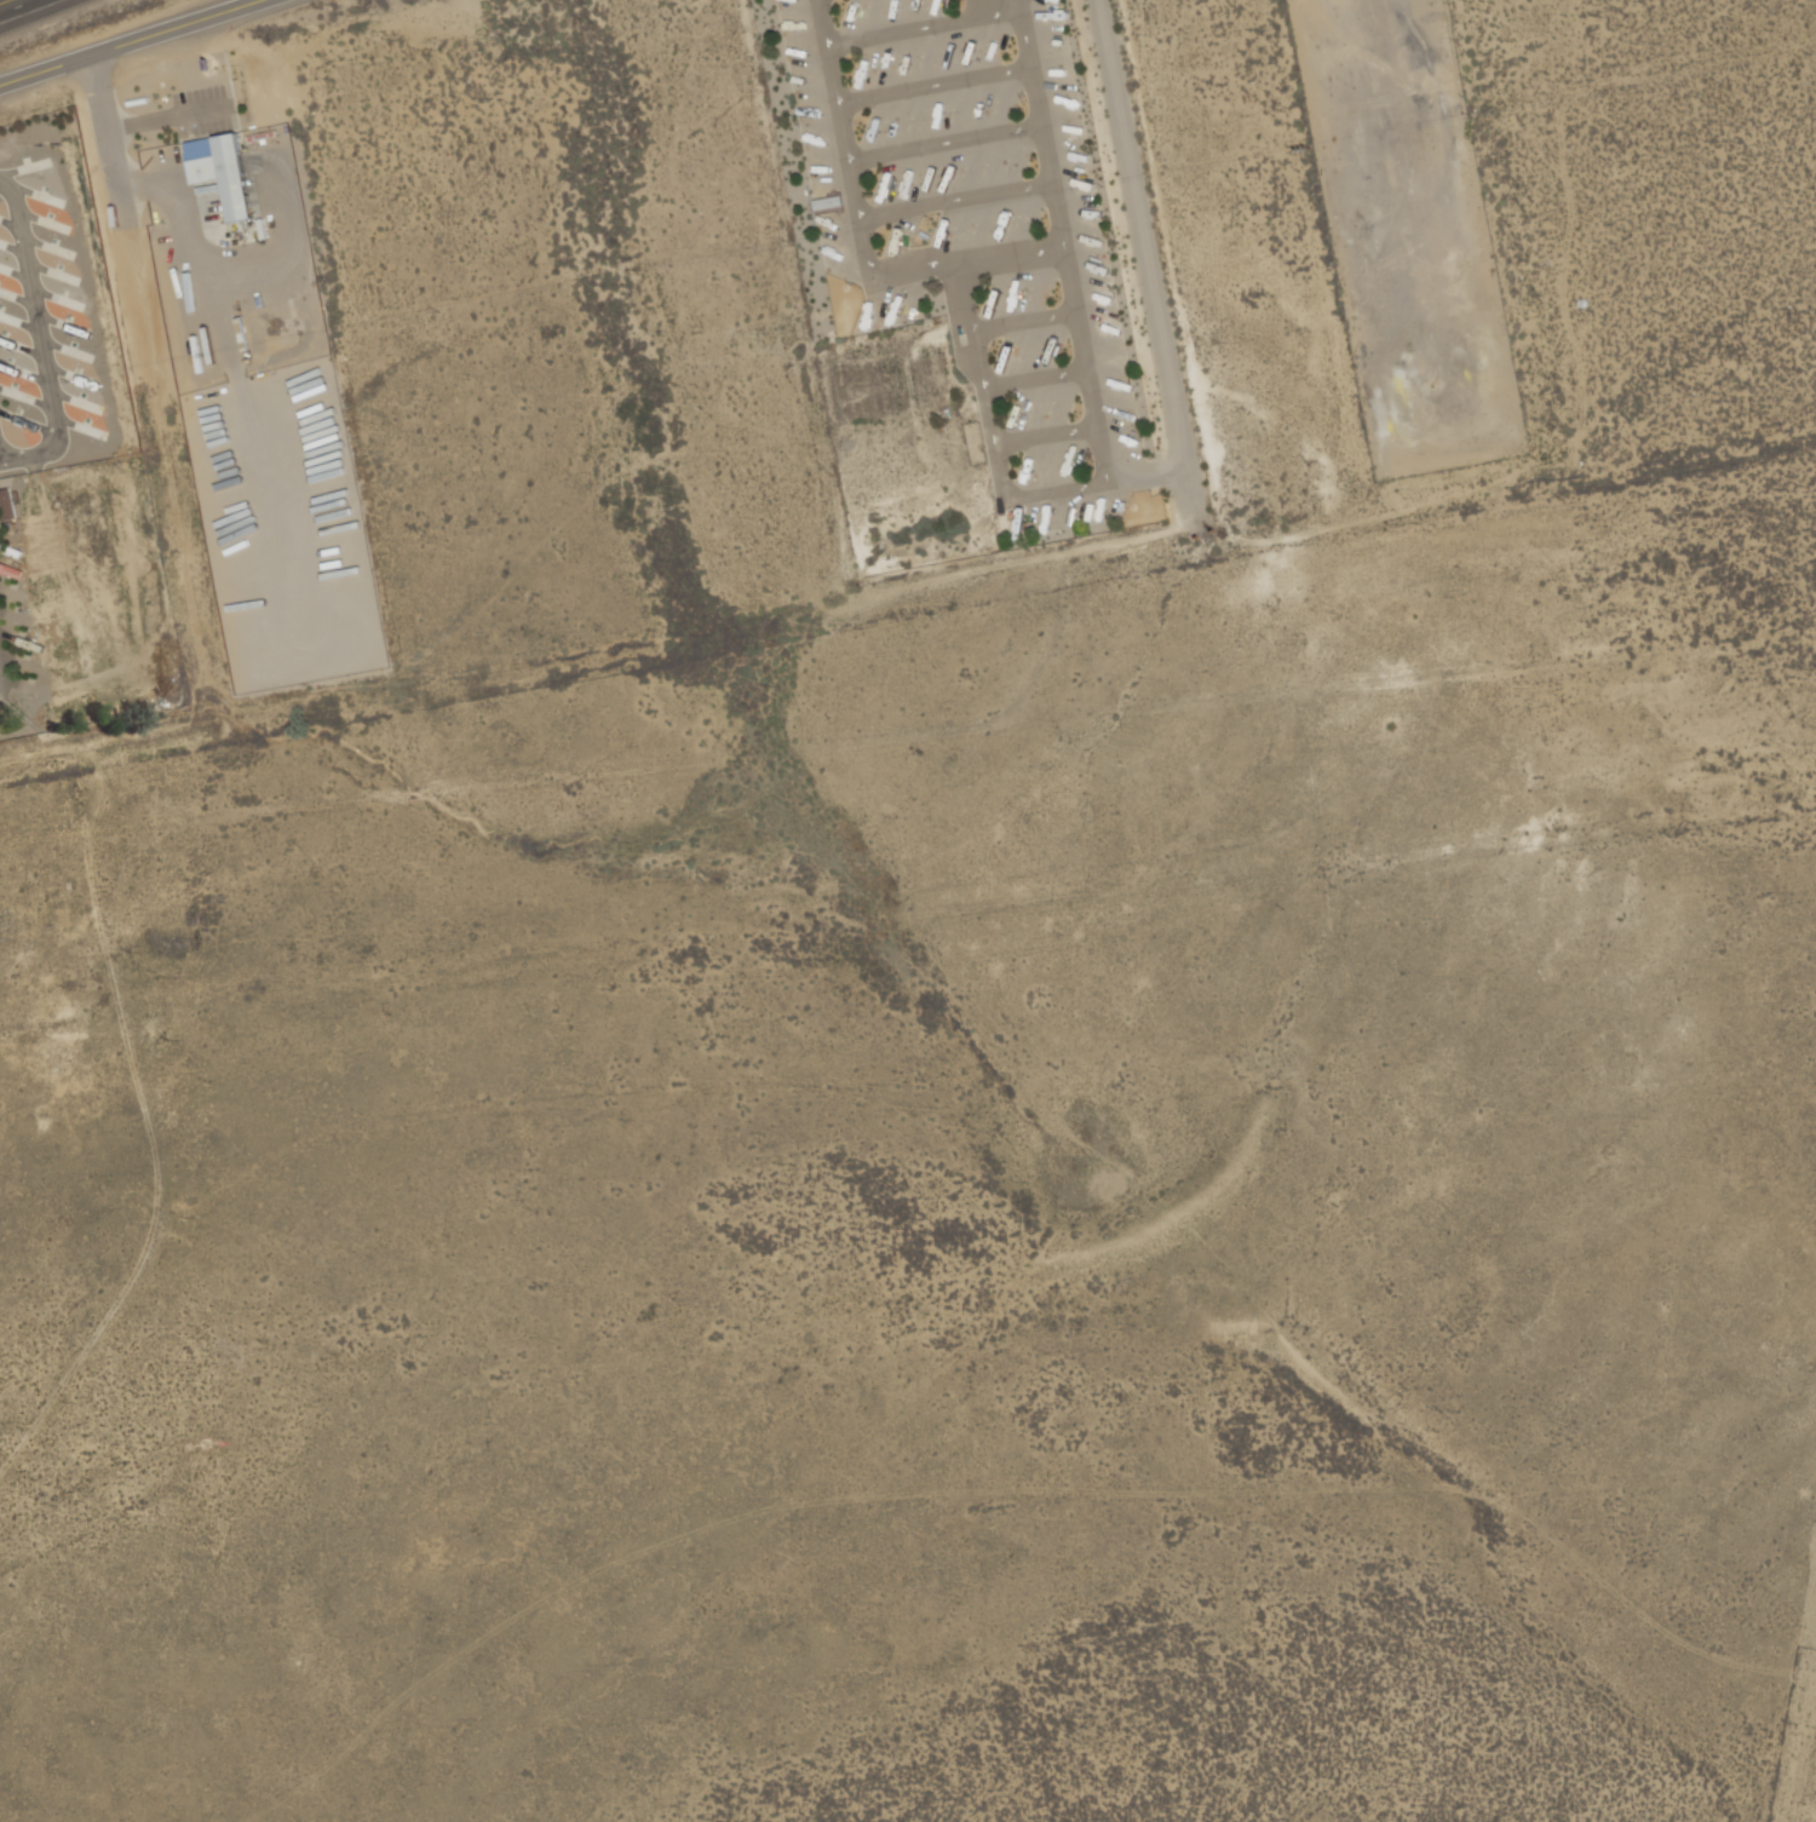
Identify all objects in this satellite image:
flagpole: (958, 4)
road: (17, 6)
road: (924, 28)
road: (126, 41)
road: (935, 85)
road: (946, 142)
building: (201, 148)
building: (1433, 150)
building: (1446, 169)
road: (117, 174)
building: (225, 174)
road: (958, 201)
building: (829, 203)
road: (863, 231)
road: (1150, 272)
road: (1025, 322)
road: (39, 337)
road: (1038, 379)
road: (1096, 410)
road: (1047, 435)
building: (6, 506)
road: (137, 1090)

